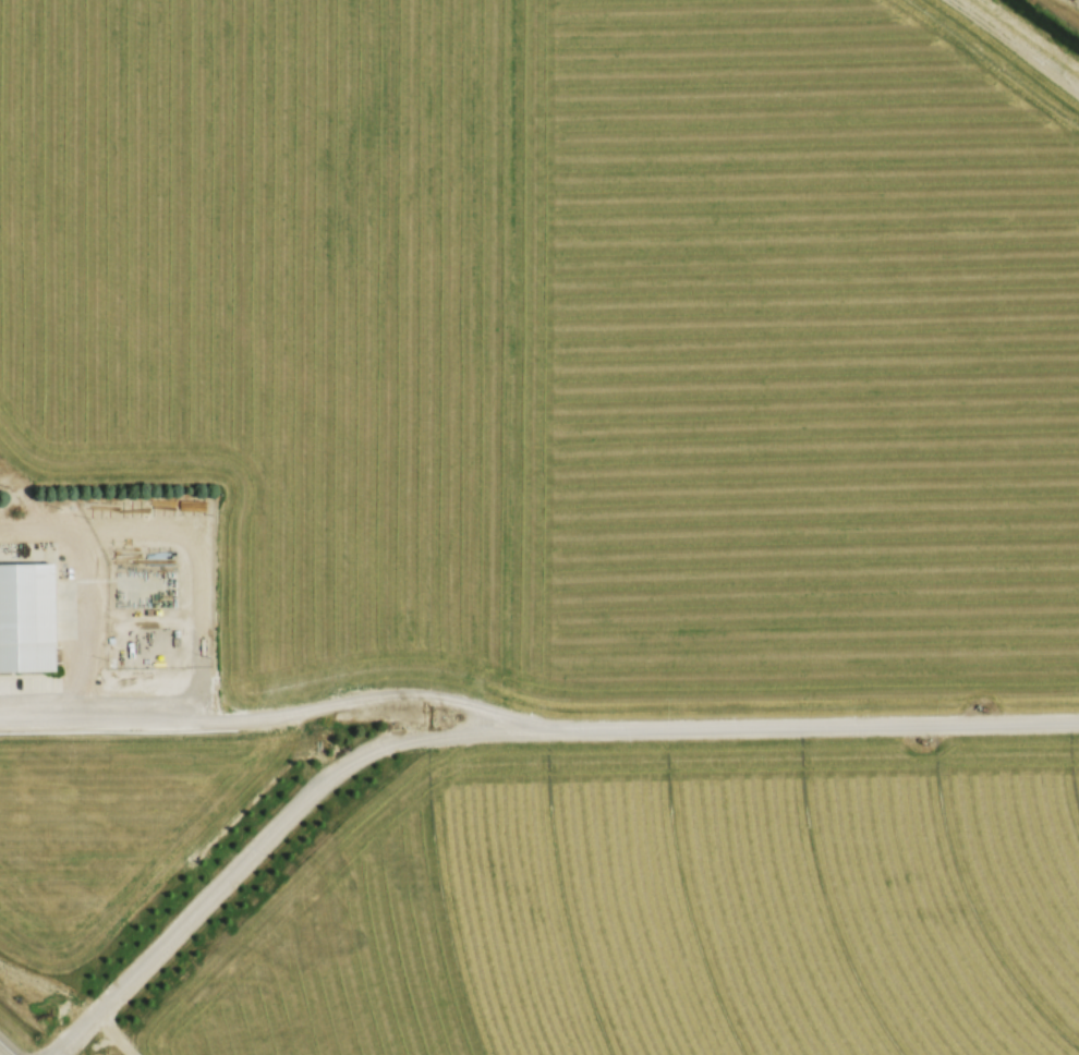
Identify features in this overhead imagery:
building: (26, 618)
road: (268, 717)
road: (499, 731)
road: (1, 1053)

